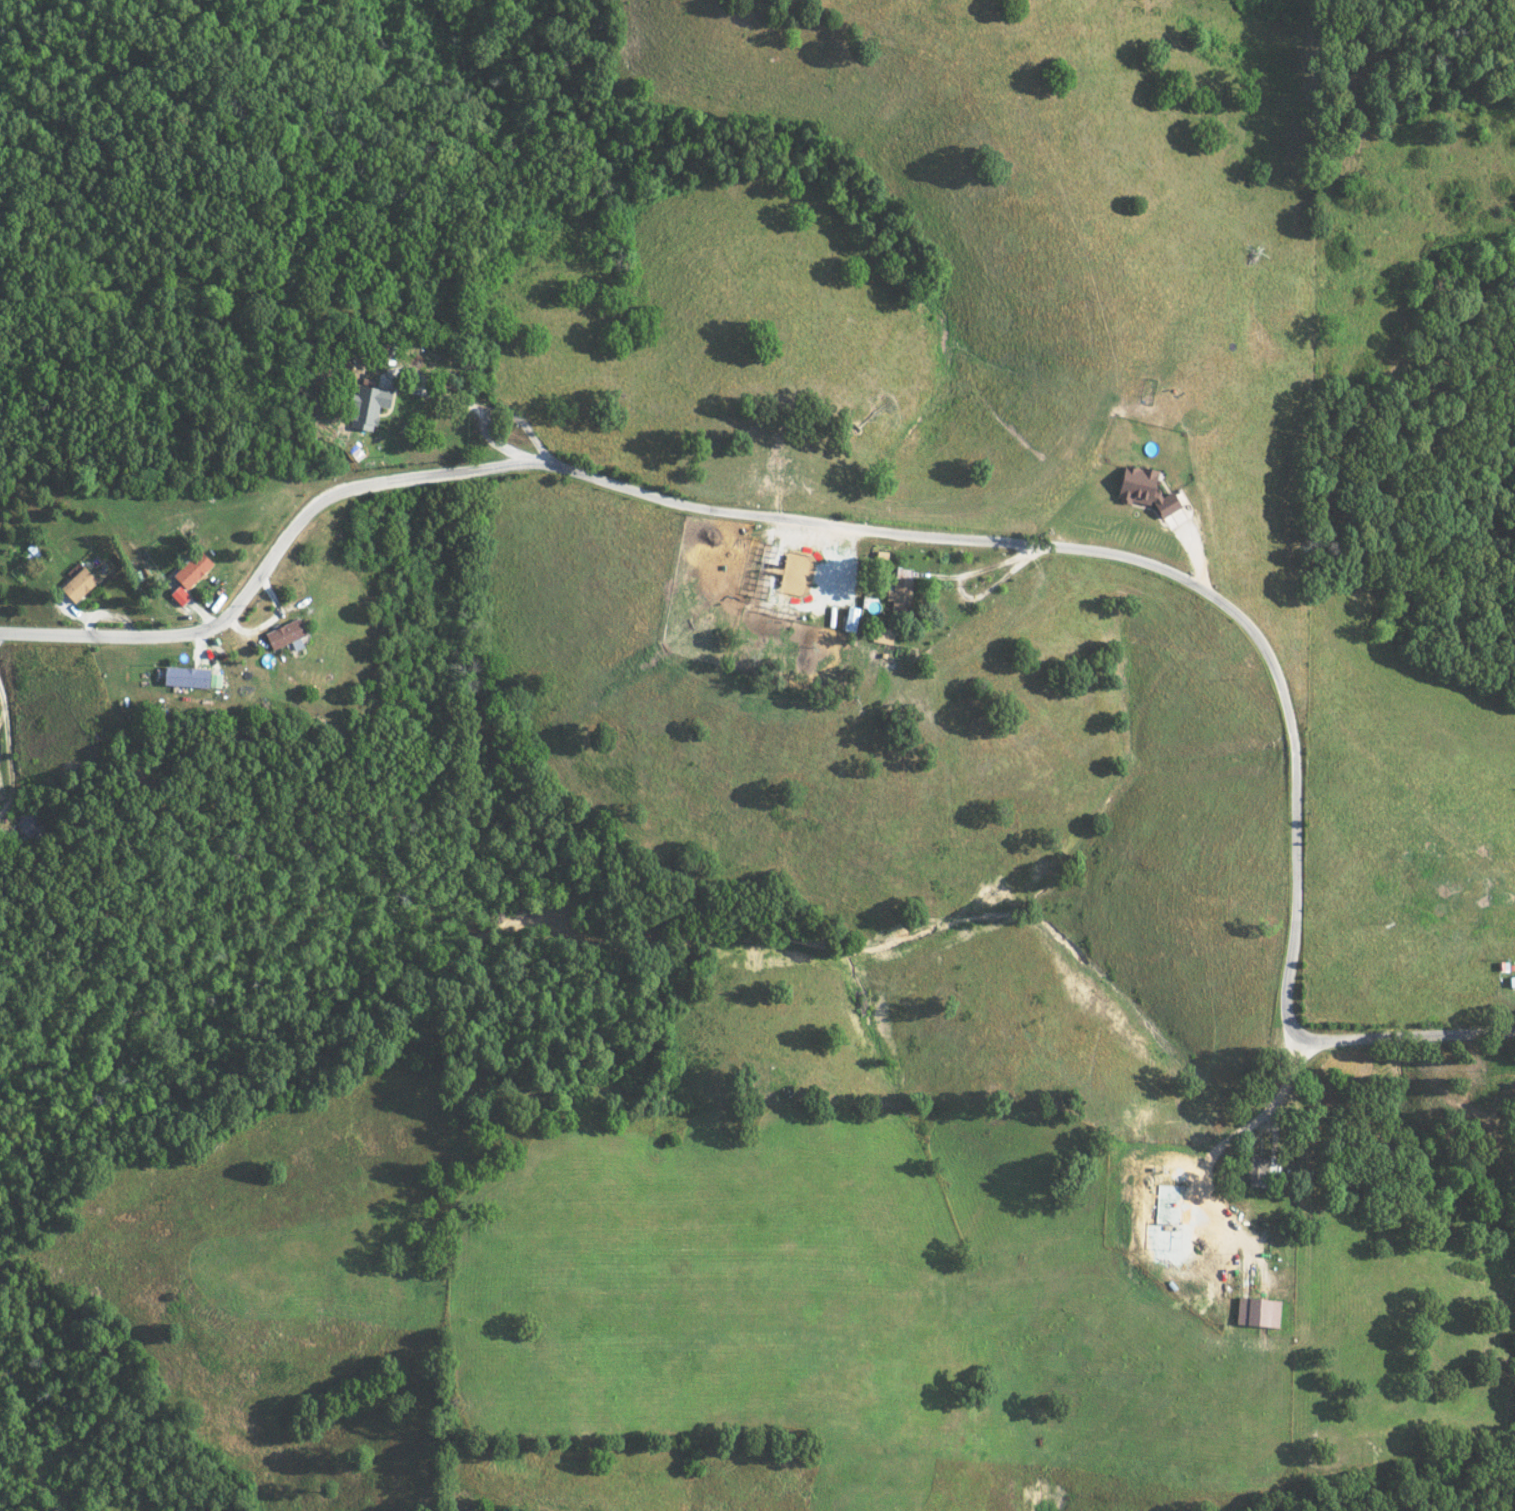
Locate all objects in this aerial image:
building: (371, 405)
building: (1139, 489)
road: (267, 563)
building: (196, 569)
building: (81, 584)
road: (1205, 587)
building: (897, 594)
building: (287, 633)
building: (879, 634)
building: (193, 677)
building: (27, 822)
building: (1509, 980)
road: (1244, 1129)
building: (1257, 1168)
building: (1254, 1311)

